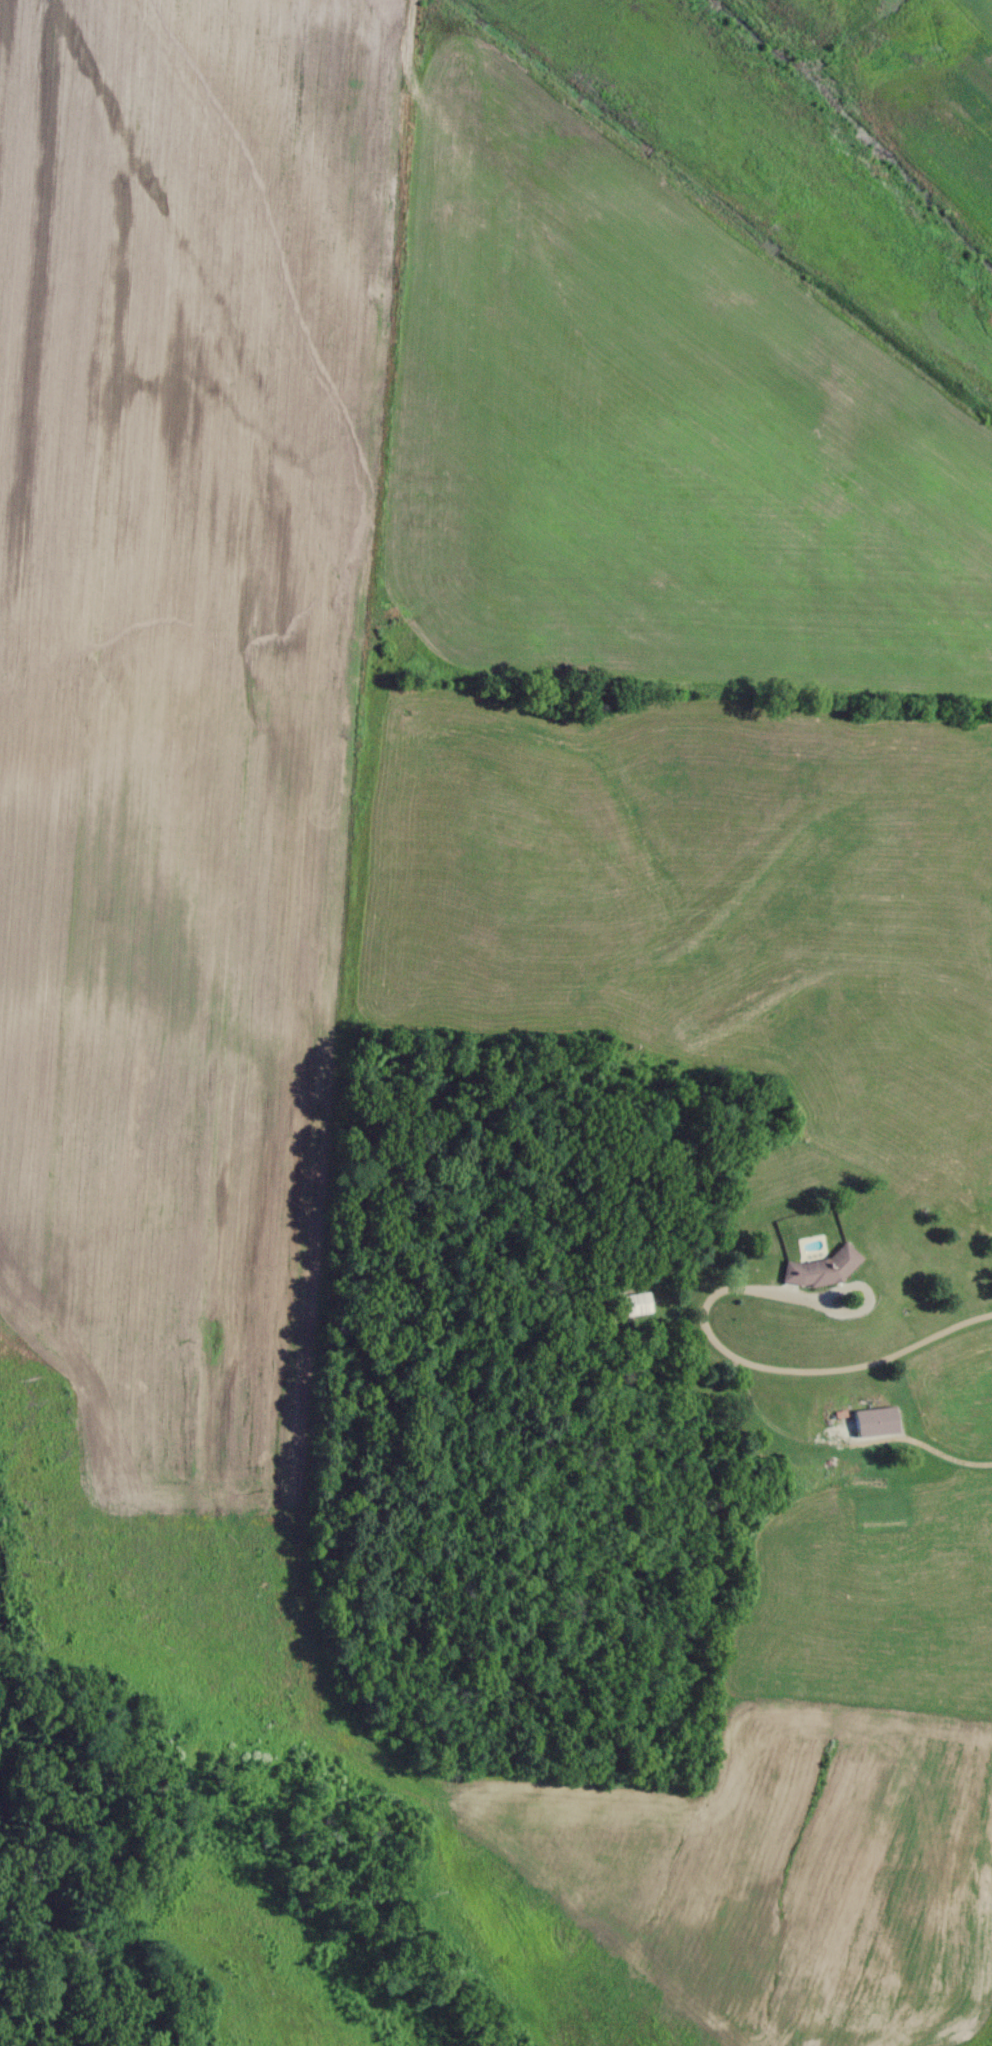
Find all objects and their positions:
building: (817, 1269)
road: (864, 1298)
building: (633, 1303)
road: (775, 1371)
building: (875, 1422)
road: (955, 1463)

